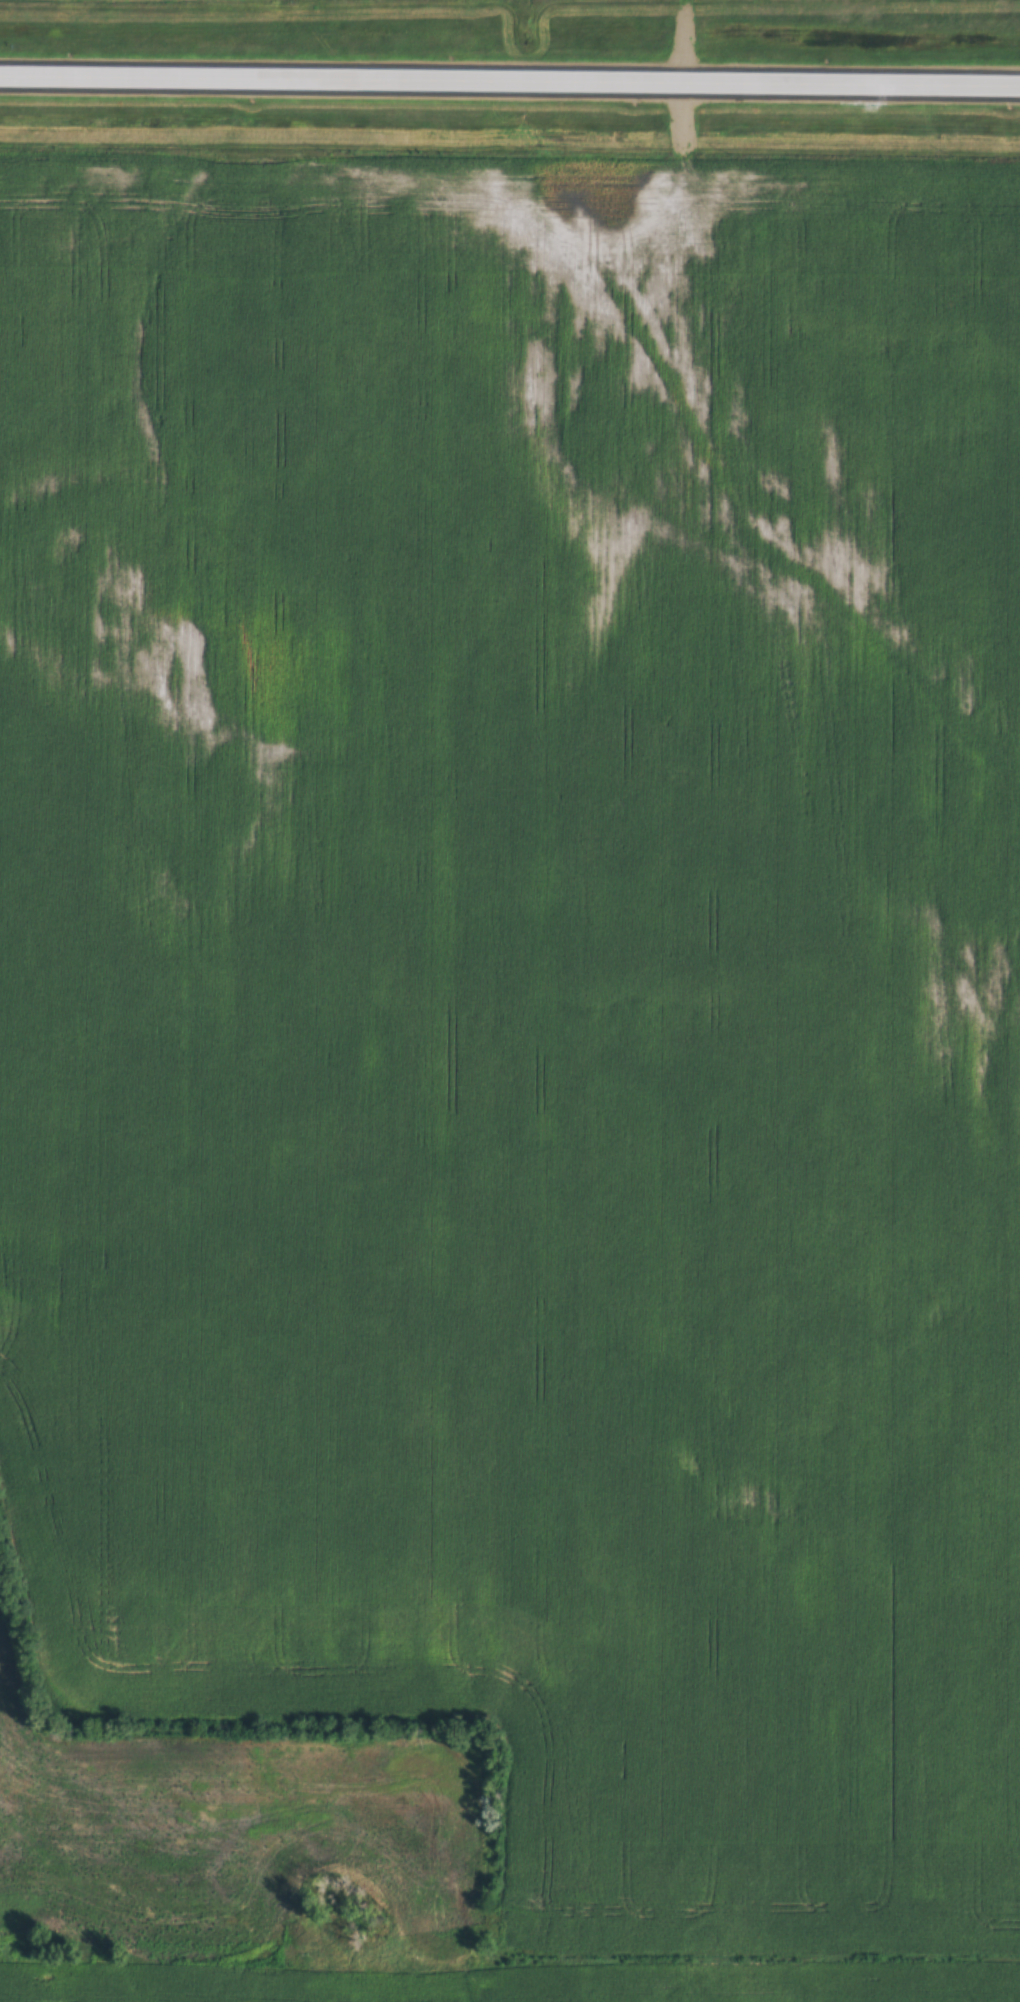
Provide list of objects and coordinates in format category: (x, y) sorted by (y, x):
road: (510, 74)
building: (454, 80)

